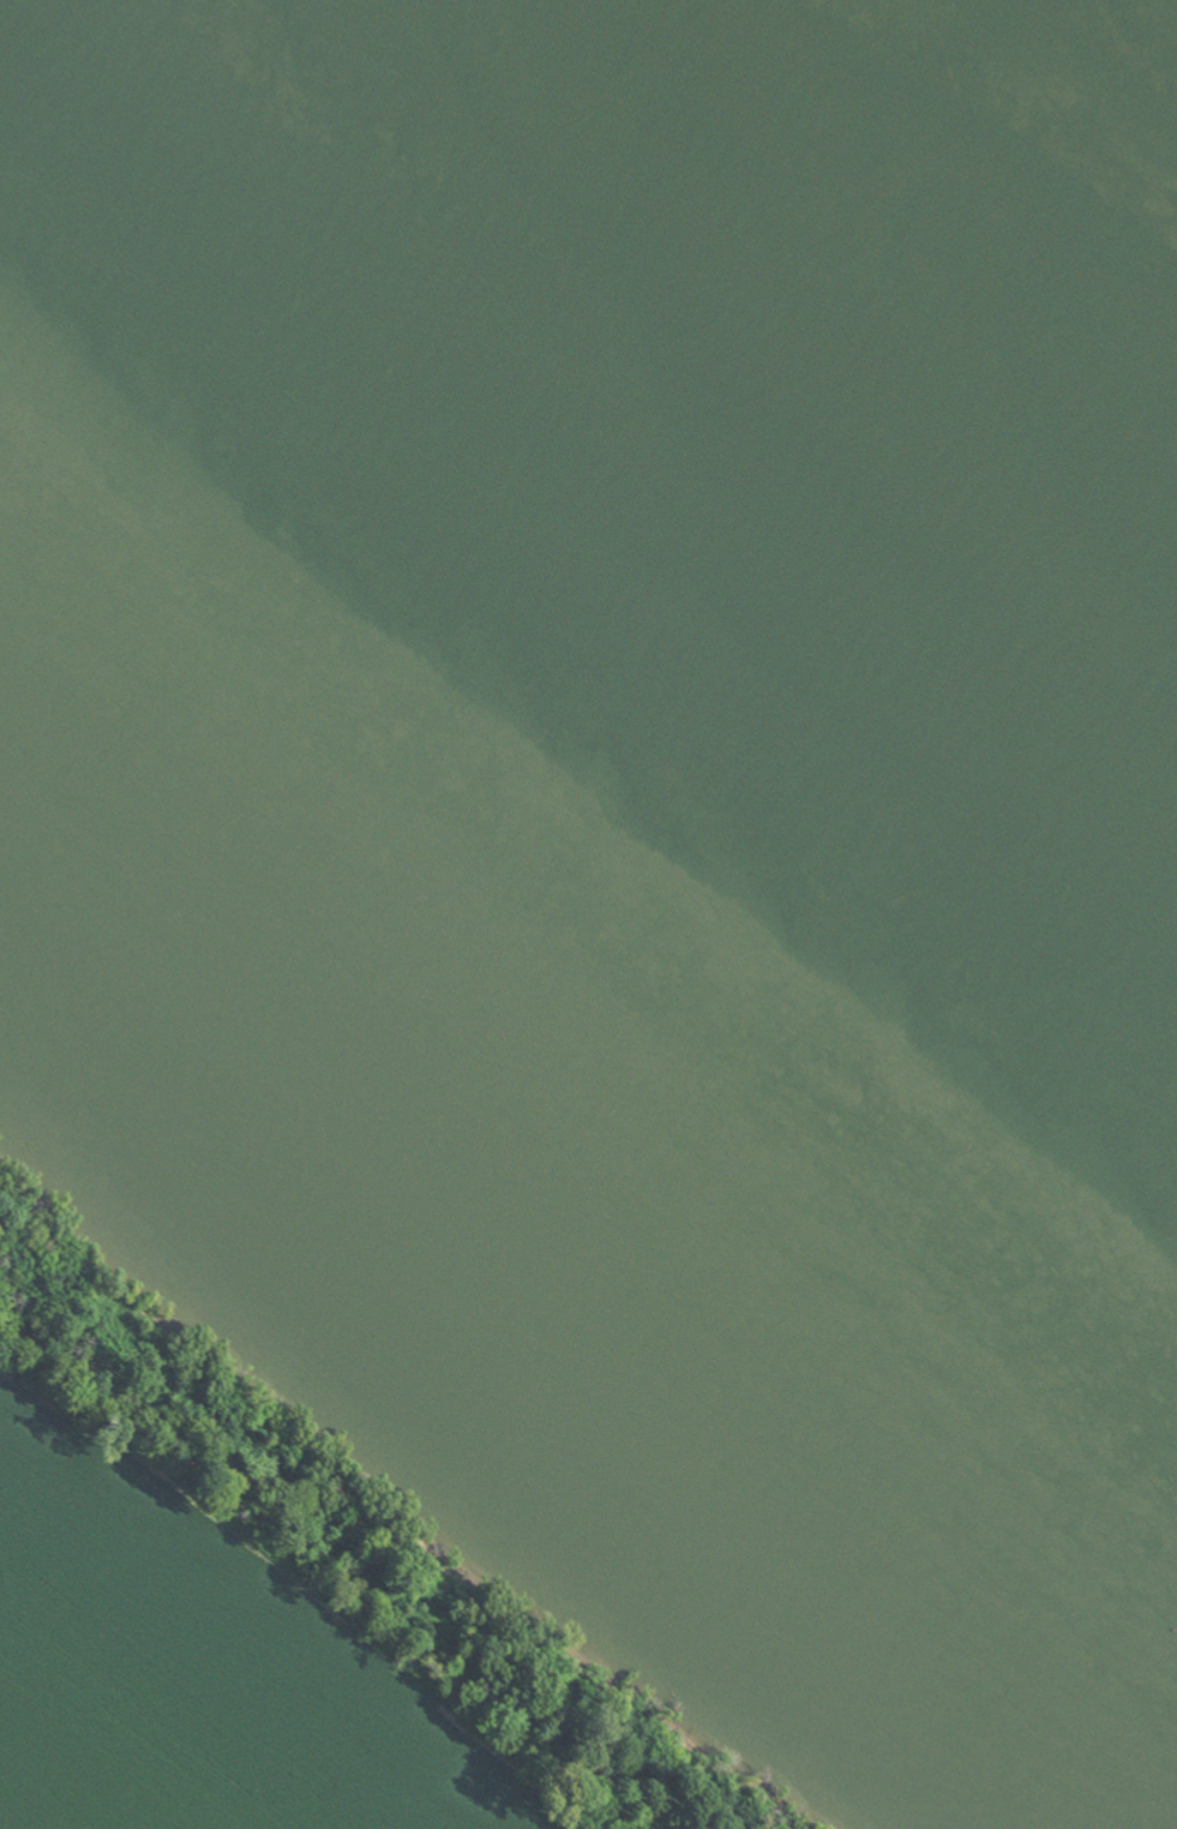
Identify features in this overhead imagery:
river: (1031, 118)

